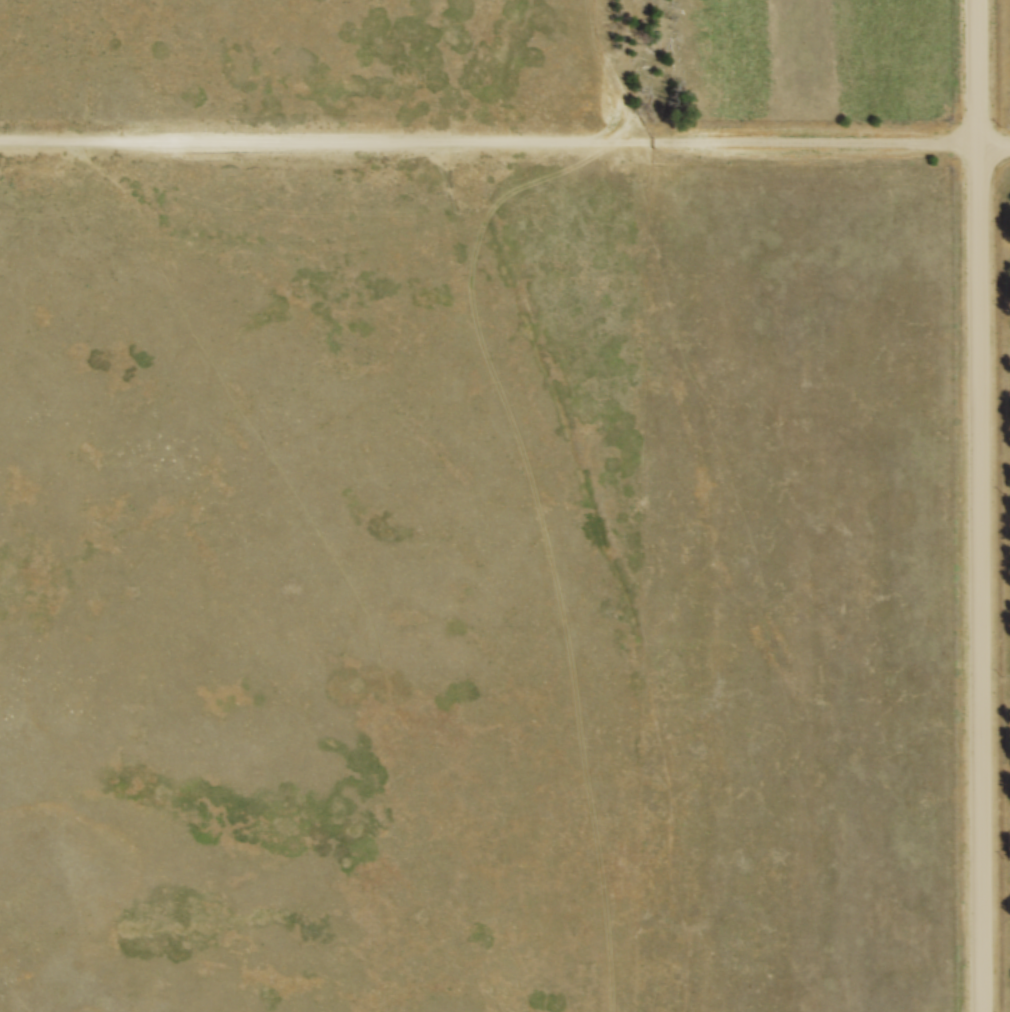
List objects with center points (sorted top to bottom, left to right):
crop: (817, 59)
road: (504, 141)
road: (974, 505)

